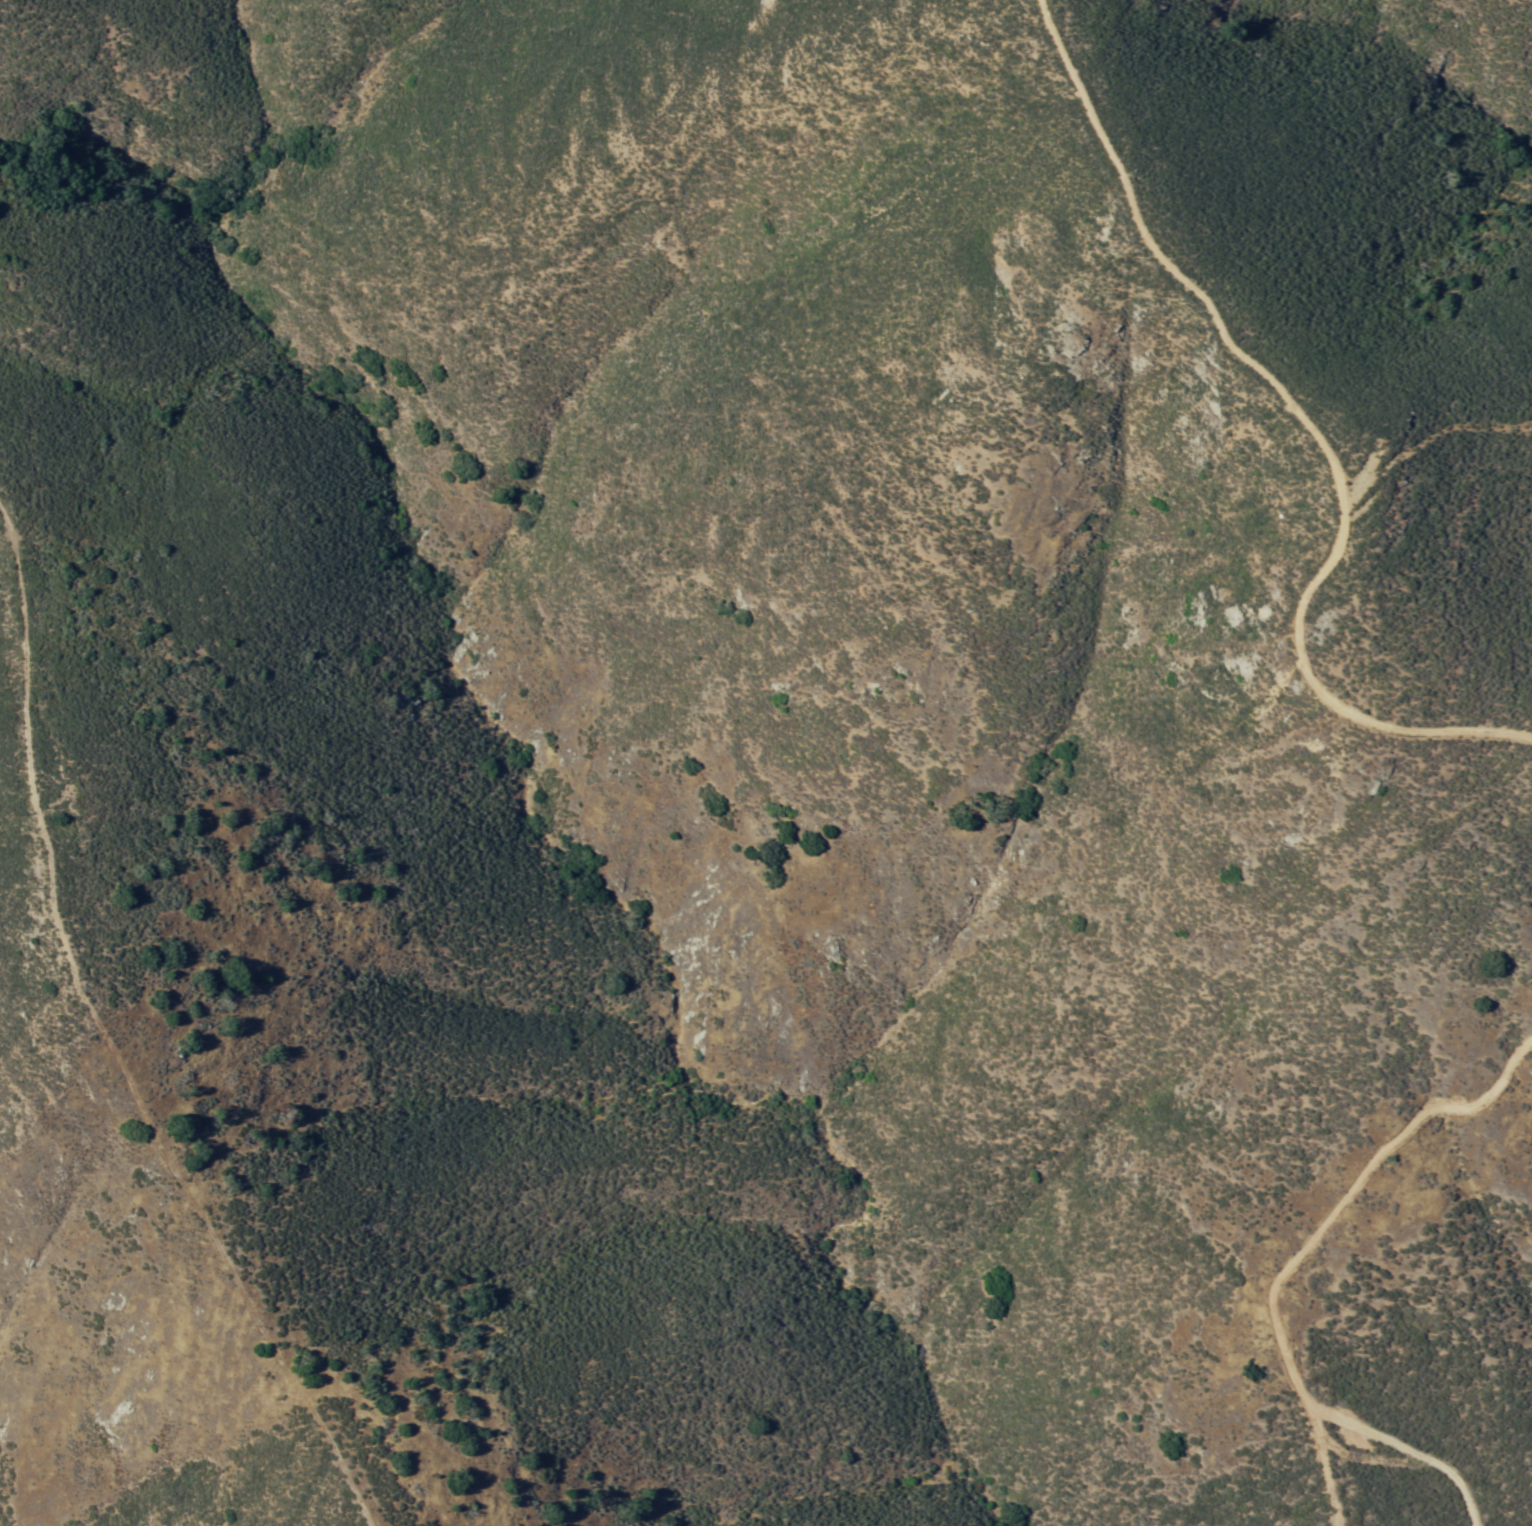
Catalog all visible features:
road: (1309, 426)
road: (1425, 444)

